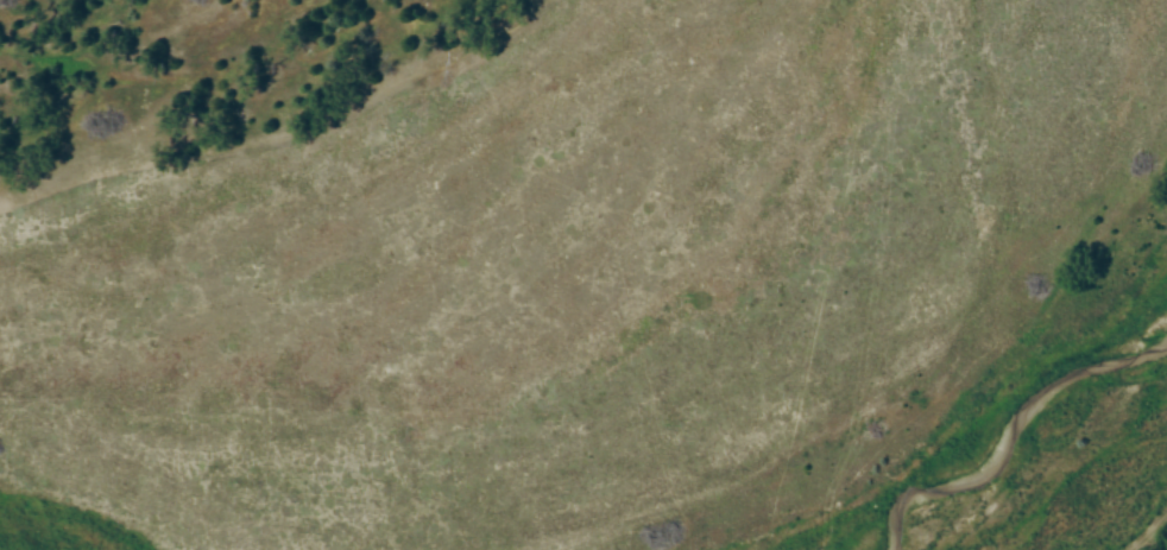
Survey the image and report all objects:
river: (1014, 425)

